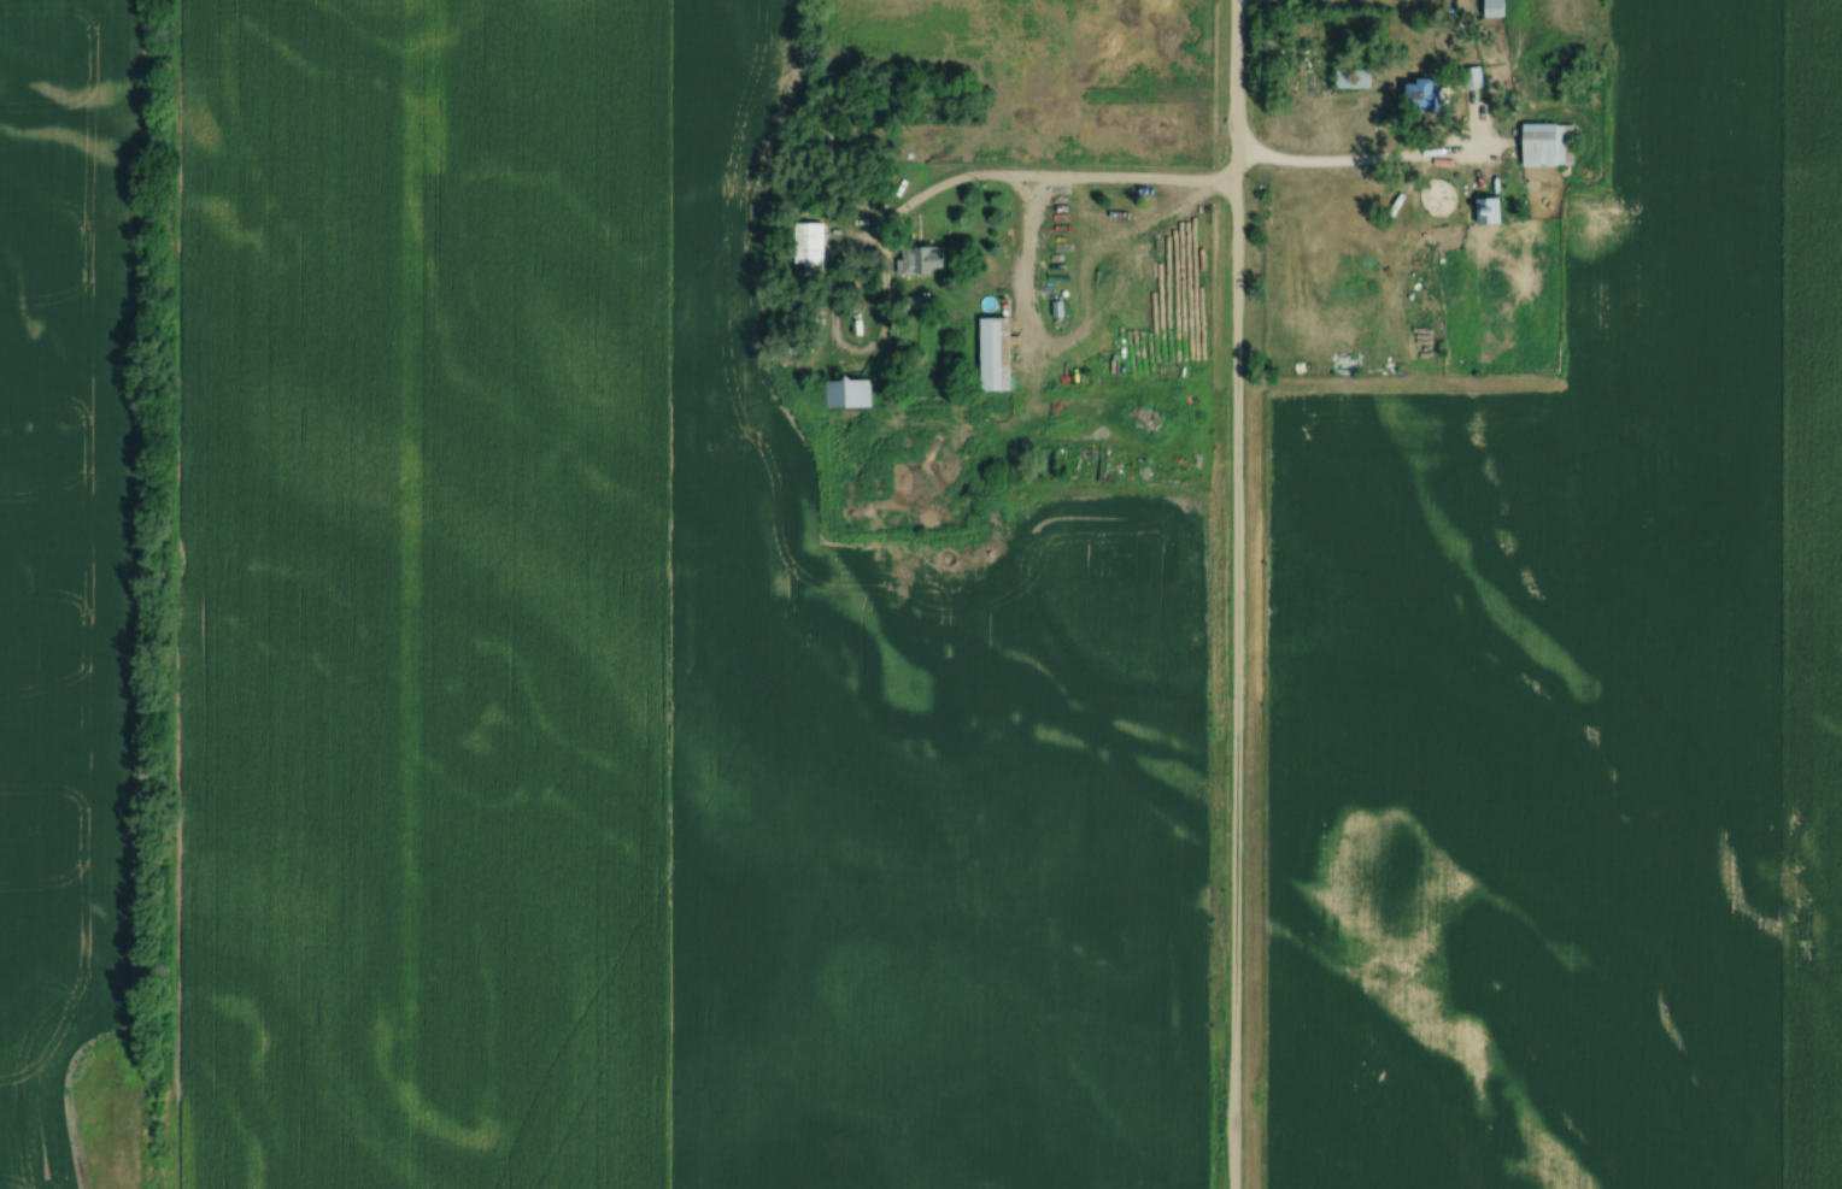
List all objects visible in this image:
building: (1495, 7)
building: (1473, 76)
building: (1353, 77)
building: (1425, 94)
building: (1549, 142)
road: (1339, 163)
road: (1040, 179)
building: (1489, 210)
road: (1029, 241)
building: (809, 242)
building: (922, 259)
building: (996, 352)
building: (847, 393)
road: (1238, 594)

